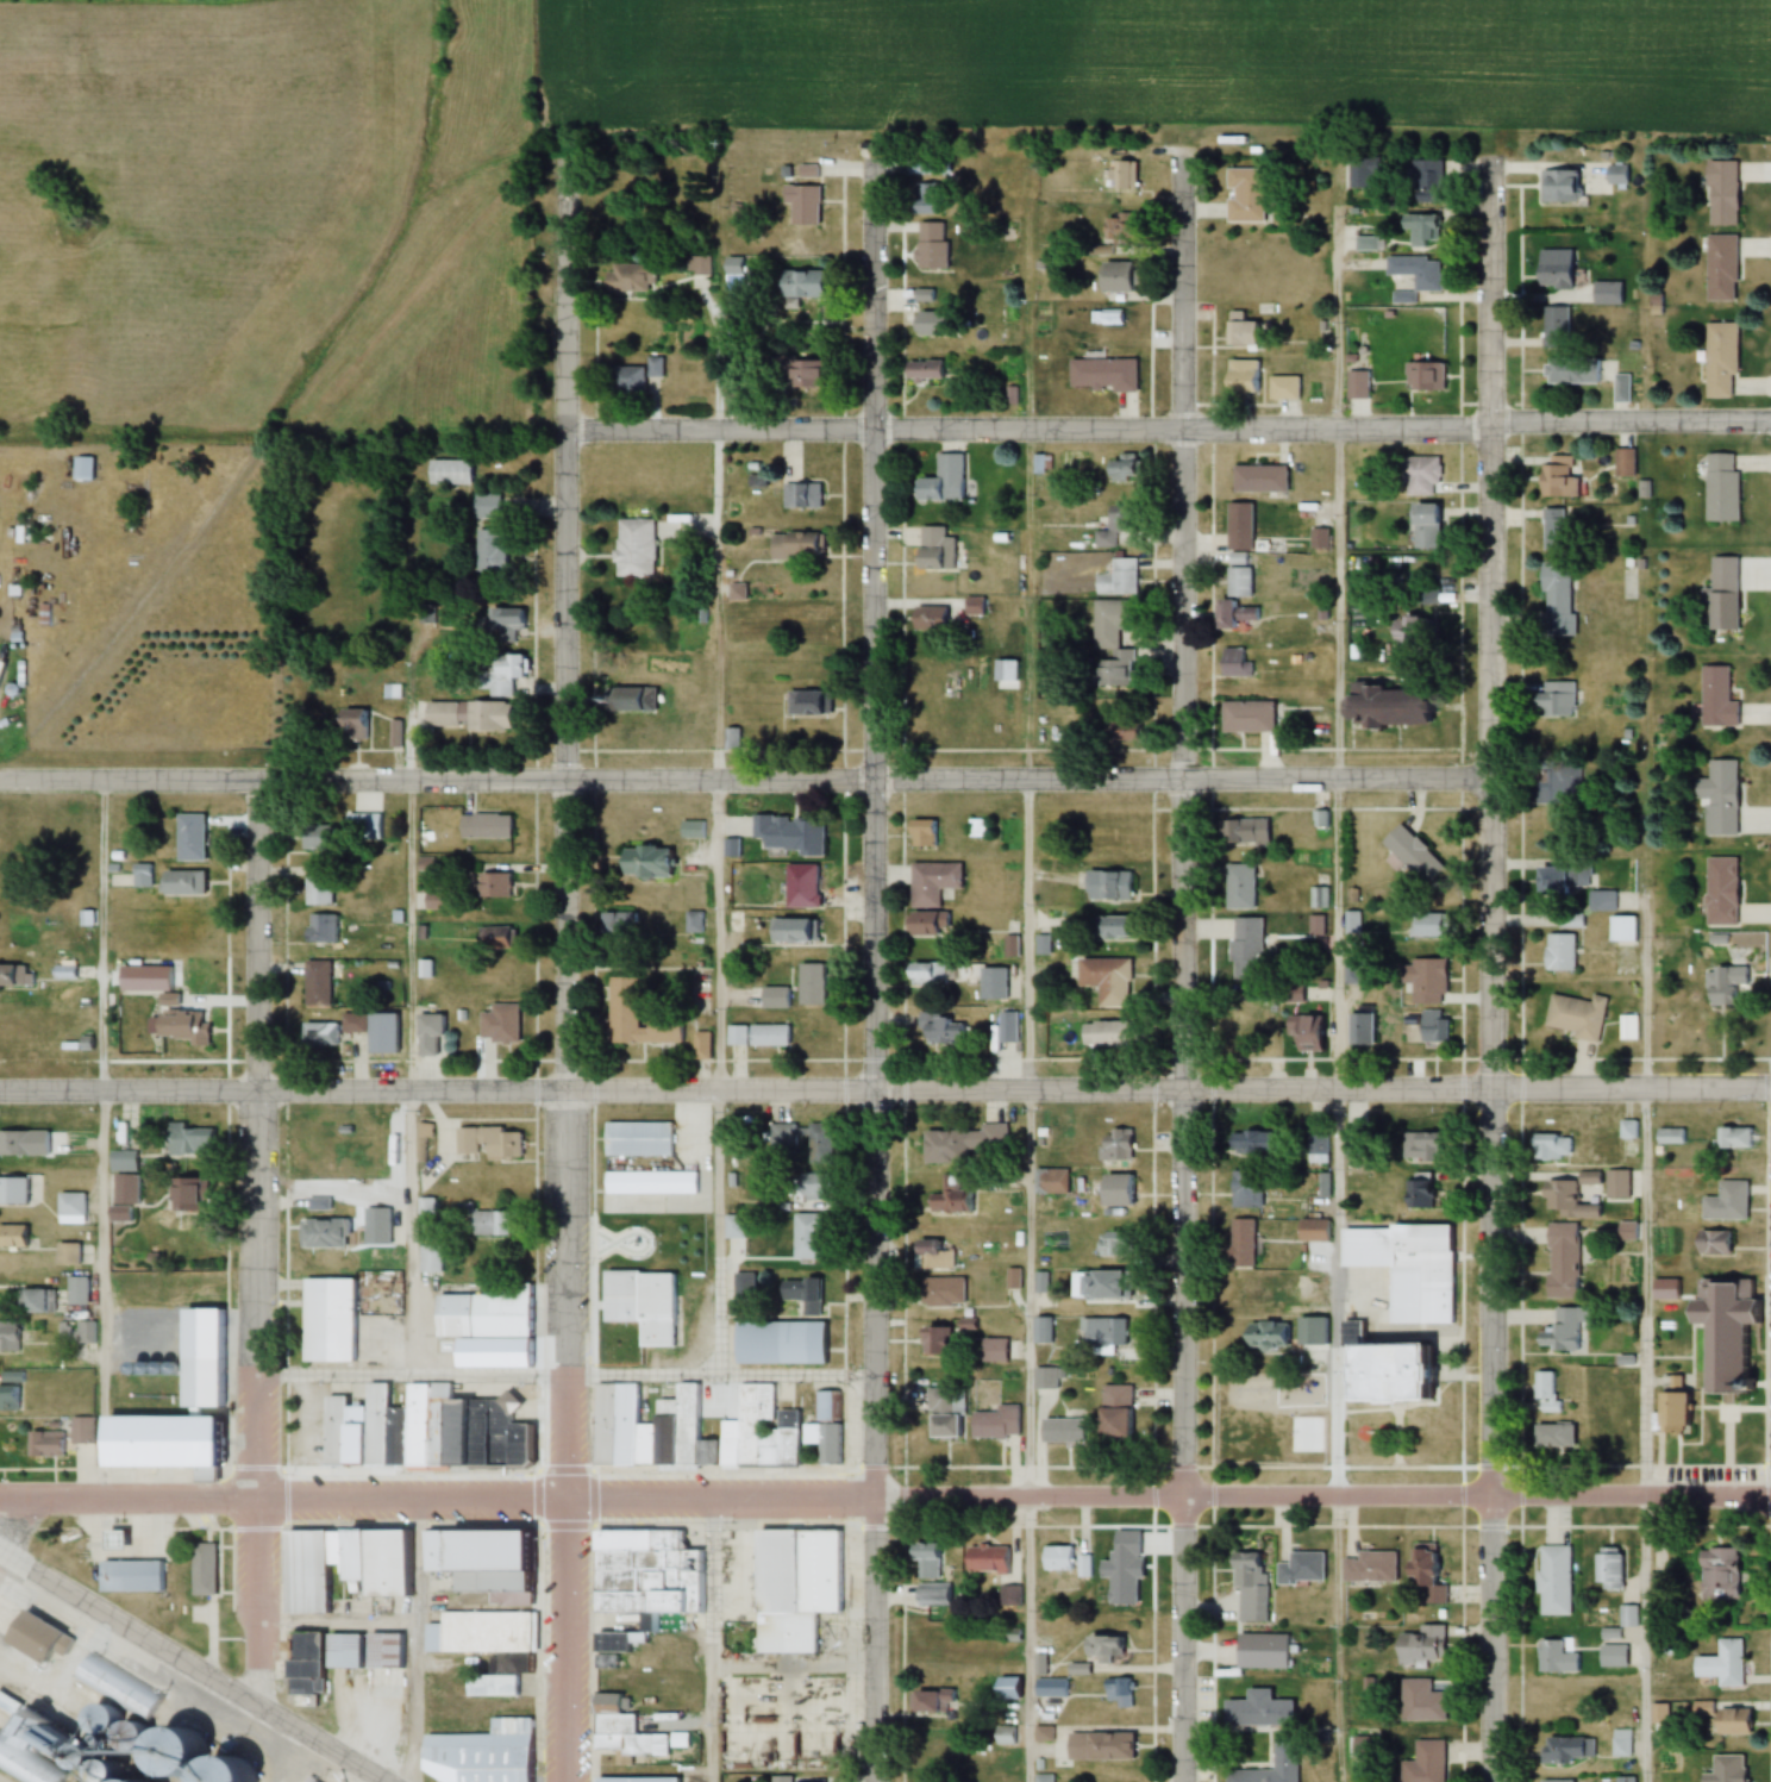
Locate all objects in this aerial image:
building: (1615, 175)
building: (1114, 176)
building: (1426, 182)
building: (1557, 188)
building: (605, 190)
building: (1720, 194)
building: (1244, 195)
building: (919, 200)
building: (800, 205)
building: (1421, 231)
building: (928, 246)
building: (697, 267)
building: (1719, 269)
building: (1415, 271)
building: (626, 277)
building: (1114, 277)
building: (1547, 277)
building: (800, 286)
road: (564, 292)
road: (1183, 294)
building: (1607, 294)
road: (872, 295)
building: (1115, 323)
building: (933, 325)
building: (1556, 329)
building: (1243, 336)
building: (1719, 359)
building: (653, 367)
building: (921, 371)
building: (1571, 371)
building: (789, 373)
building: (1100, 375)
building: (1240, 377)
building: (1422, 377)
building: (625, 381)
building: (1356, 386)
building: (1282, 388)
building: (1621, 388)
road: (1168, 431)
building: (1041, 464)
building: (1623, 464)
building: (88, 467)
building: (1120, 469)
building: (450, 473)
building: (1419, 476)
building: (1258, 480)
building: (1556, 480)
building: (940, 482)
building: (1720, 488)
building: (800, 496)
building: (487, 507)
building: (1238, 527)
building: (1423, 527)
building: (1552, 530)
building: (1115, 532)
building: (794, 546)
building: (933, 549)
building: (633, 550)
building: (489, 551)
building: (1118, 579)
building: (1237, 583)
building: (1721, 594)
building: (1426, 596)
building: (1556, 599)
building: (1232, 615)
building: (927, 619)
building: (503, 625)
building: (1109, 644)
building: (1233, 663)
building: (499, 674)
building: (1715, 696)
building: (628, 700)
building: (1552, 700)
building: (805, 704)
building: (1381, 707)
building: (464, 717)
building: (1245, 718)
building: (362, 732)
building: (395, 733)
road: (716, 773)
road: (744, 780)
building: (1552, 784)
building: (1719, 796)
building: (373, 823)
building: (482, 825)
building: (1241, 831)
building: (920, 832)
building: (787, 833)
building: (325, 834)
building: (199, 837)
building: (1409, 852)
building: (642, 861)
building: (145, 875)
building: (1559, 876)
building: (189, 882)
building: (930, 882)
building: (490, 883)
building: (326, 884)
building: (1106, 884)
building: (799, 886)
building: (1239, 886)
building: (1719, 890)
building: (1600, 900)
building: (1571, 920)
building: (924, 924)
building: (1352, 924)
building: (1422, 925)
building: (1113, 926)
building: (319, 927)
building: (1622, 928)
building: (791, 931)
building: (496, 940)
building: (1008, 946)
building: (1245, 949)
building: (1558, 951)
road: (1028, 968)
road: (1491, 969)
building: (132, 970)
road: (1335, 970)
building: (924, 974)
building: (497, 976)
building: (1106, 980)
building: (1423, 981)
building: (314, 983)
building: (990, 983)
building: (807, 984)
building: (1723, 986)
building: (1288, 994)
building: (1575, 1015)
building: (634, 1017)
building: (499, 1024)
building: (1431, 1025)
building: (179, 1026)
building: (352, 1026)
building: (1005, 1027)
building: (1627, 1027)
building: (937, 1031)
building: (1300, 1032)
building: (317, 1034)
building: (426, 1034)
building: (1101, 1034)
building: (756, 1036)
road: (408, 1076)
road: (884, 1090)
road: (102, 1099)
road: (875, 1106)
road: (1183, 1106)
road: (567, 1107)
building: (781, 1134)
building: (394, 1136)
building: (644, 1136)
building: (1669, 1136)
building: (1733, 1137)
building: (188, 1139)
building: (487, 1142)
building: (1249, 1142)
building: (1315, 1143)
building: (818, 1144)
building: (963, 1145)
building: (1114, 1145)
building: (1547, 1145)
building: (1421, 1148)
building: (123, 1161)
building: (1587, 1176)
building: (656, 1178)
building: (1616, 1183)
building: (18, 1187)
building: (1245, 1188)
building: (1113, 1189)
building: (807, 1192)
building: (1428, 1193)
building: (181, 1194)
building: (946, 1196)
building: (1565, 1201)
building: (1725, 1202)
building: (69, 1208)
building: (486, 1221)
building: (374, 1226)
building: (732, 1226)
building: (1312, 1230)
building: (320, 1233)
building: (806, 1236)
road: (256, 1240)
building: (1239, 1242)
building: (1711, 1242)
building: (1106, 1246)
building: (65, 1255)
building: (930, 1255)
building: (1559, 1259)
building: (1404, 1267)
building: (1100, 1284)
building: (75, 1290)
building: (940, 1292)
building: (801, 1294)
building: (35, 1301)
building: (640, 1305)
building: (336, 1314)
building: (487, 1325)
building: (1562, 1330)
building: (1722, 1331)
building: (75, 1332)
building: (1102, 1332)
building: (7, 1336)
building: (1265, 1336)
building: (943, 1338)
building: (784, 1340)
building: (215, 1348)
building: (991, 1351)
road: (1645, 1362)
road: (564, 1375)
building: (1044, 1378)
building: (1419, 1378)
building: (199, 1382)
building: (1545, 1392)
building: (8, 1398)
building: (940, 1400)
building: (1667, 1406)
building: (1112, 1411)
building: (995, 1424)
building: (945, 1427)
building: (79, 1430)
building: (423, 1431)
building: (1059, 1431)
building: (778, 1432)
building: (176, 1433)
building: (1610, 1434)
building: (1552, 1437)
building: (43, 1444)
road: (885, 1497)
building: (126, 1533)
building: (501, 1538)
building: (400, 1553)
building: (1056, 1558)
building: (985, 1559)
building: (921, 1562)
building: (207, 1563)
building: (1244, 1563)
building: (805, 1564)
building: (313, 1565)
building: (1303, 1567)
building: (1368, 1568)
building: (138, 1569)
building: (1081, 1570)
building: (1607, 1570)
building: (1423, 1574)
building: (1717, 1574)
building: (643, 1576)
building: (1552, 1581)
building: (1008, 1595)
building: (931, 1596)
building: (44, 1630)
road: (713, 1639)
building: (1420, 1646)
building: (486, 1647)
building: (1100, 1647)
building: (363, 1651)
building: (1260, 1651)
building: (301, 1655)
building: (1610, 1656)
building: (1554, 1657)
building: (1728, 1662)
road: (190, 1667)
building: (1077, 1669)
building: (121, 1686)
building: (1005, 1688)
building: (1047, 1688)
building: (1118, 1692)
building: (928, 1701)
building: (1419, 1701)
building: (1256, 1711)
building: (1722, 1719)
building: (619, 1722)
building: (1041, 1734)
building: (1002, 1736)
building: (1621, 1743)
building: (924, 1744)
building: (1097, 1747)
building: (1566, 1749)
building: (478, 1753)
building: (1282, 1753)
building: (29, 1759)
building: (1423, 1763)
building: (1740, 1770)
building: (1043, 1778)
building: (632, 1780)
building: (781, 1780)
building: (1556, 1781)

